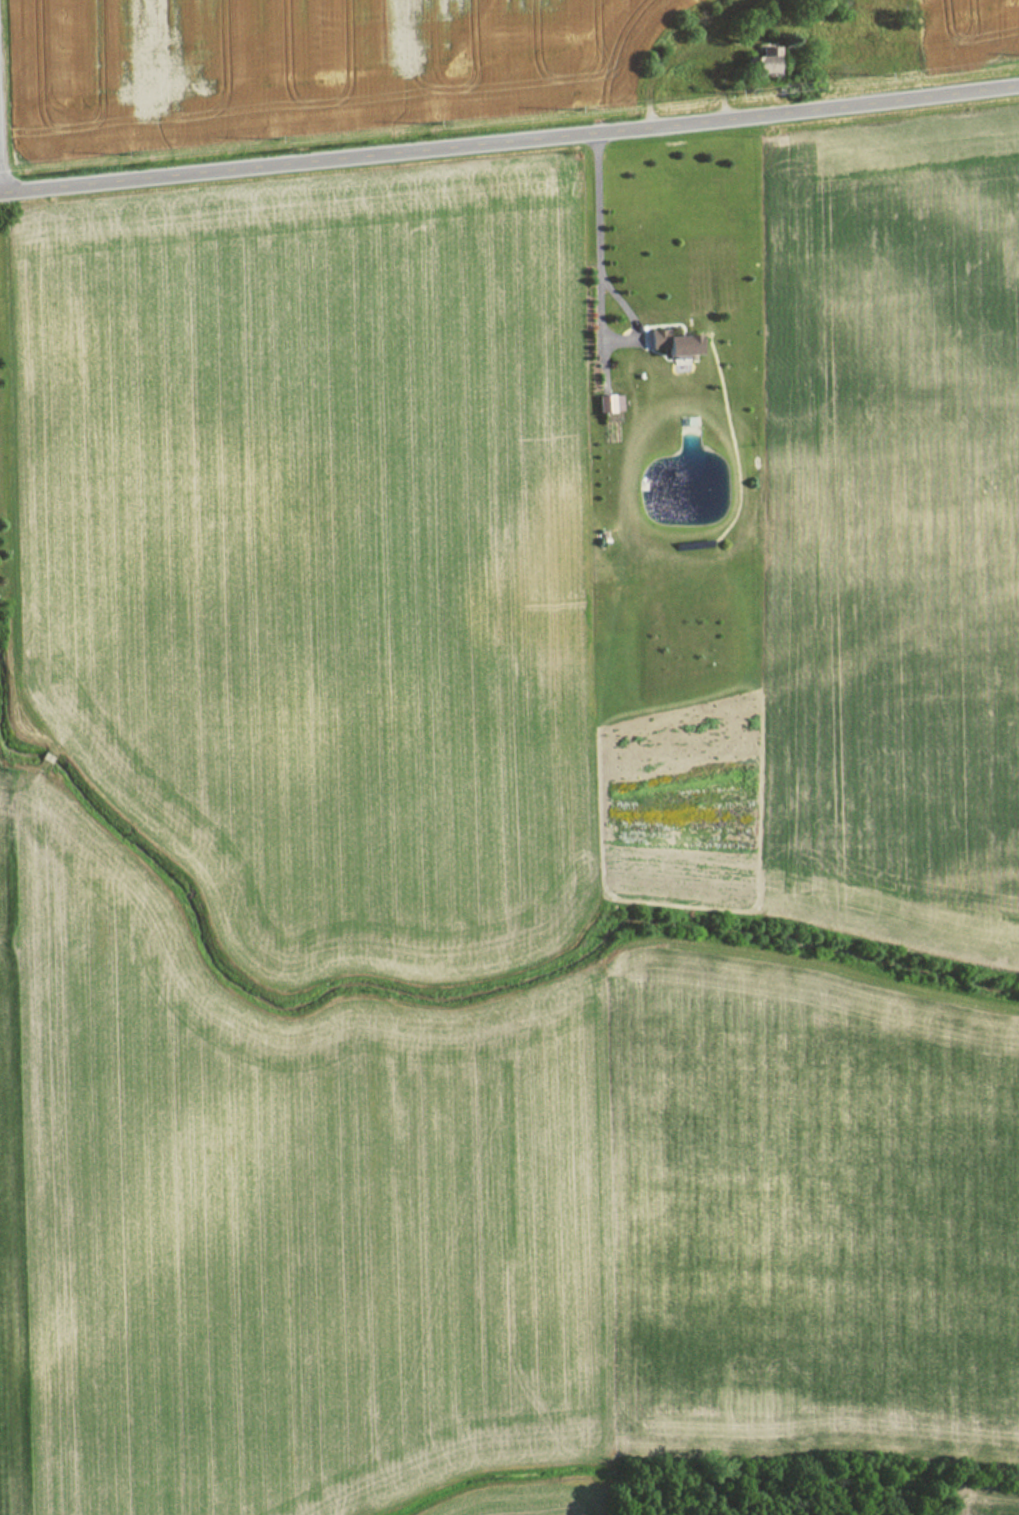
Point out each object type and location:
crop: (962, 19)
road: (745, 43)
crop: (300, 57)
road: (509, 141)
road: (594, 288)
crop: (526, 556)
crop: (475, 1217)
crop: (987, 1502)

